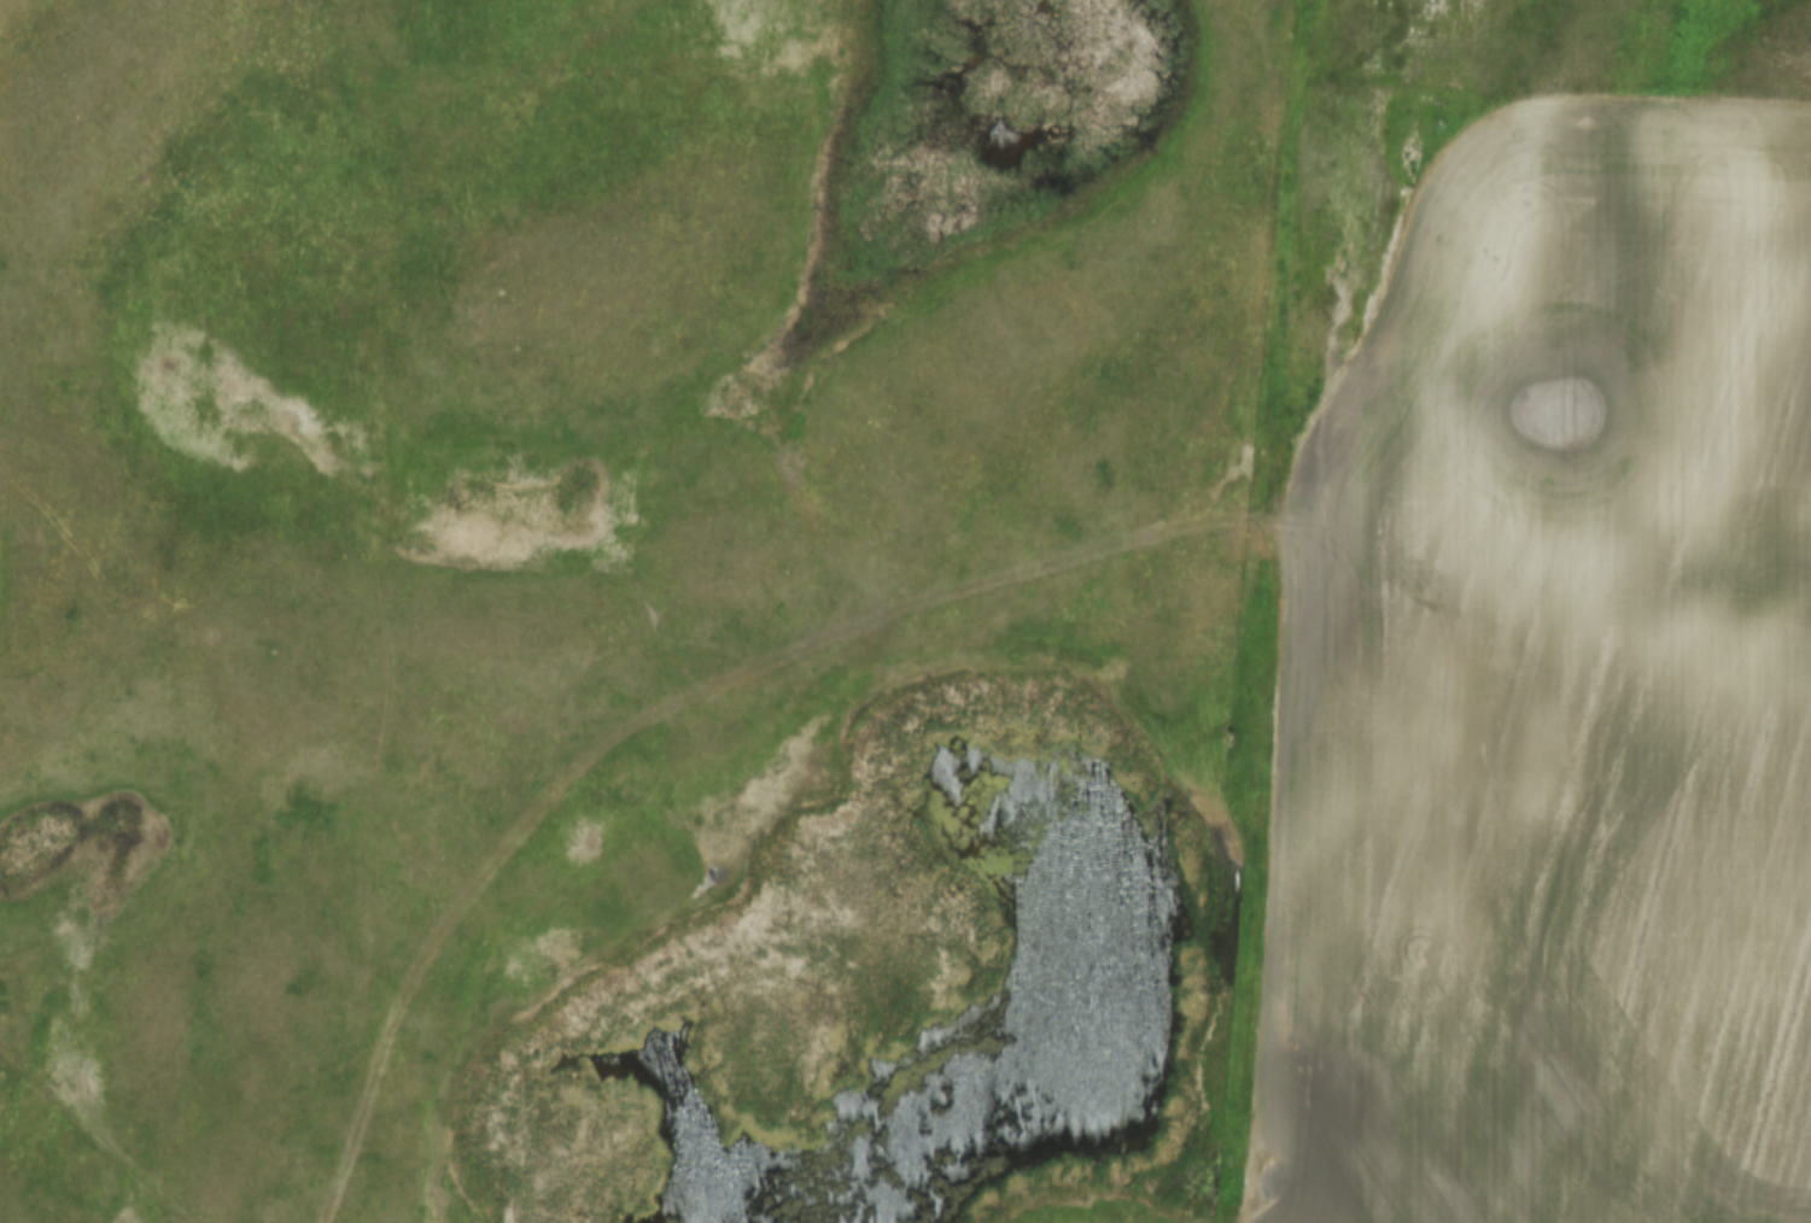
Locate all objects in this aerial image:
road: (1275, 610)

